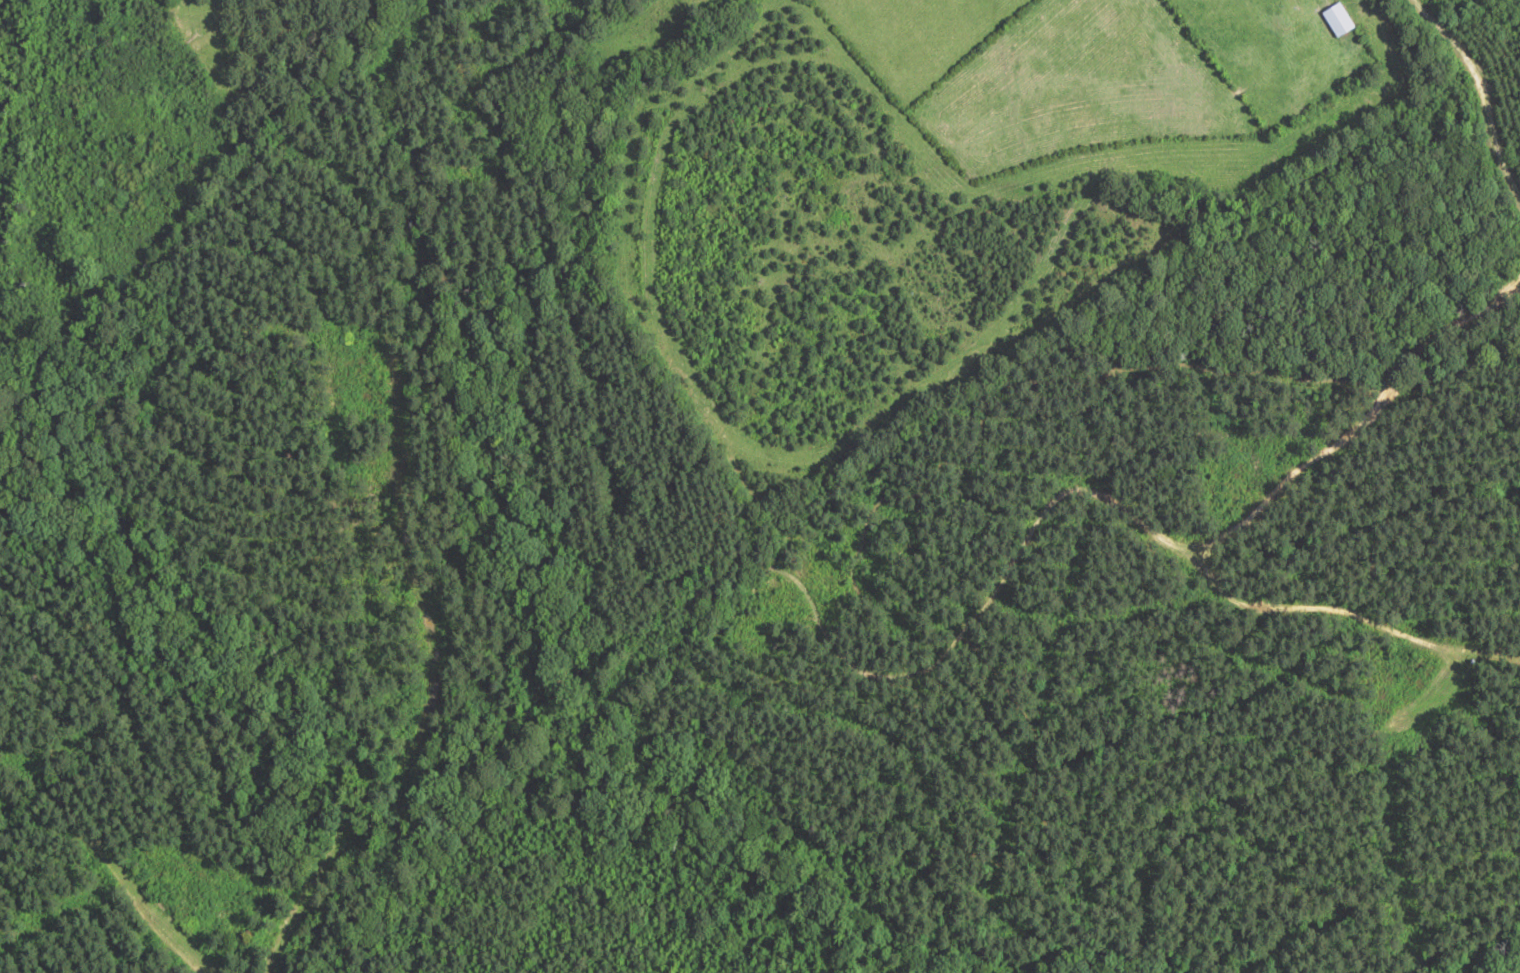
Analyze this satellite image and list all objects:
building: (1341, 23)
road: (607, 662)

